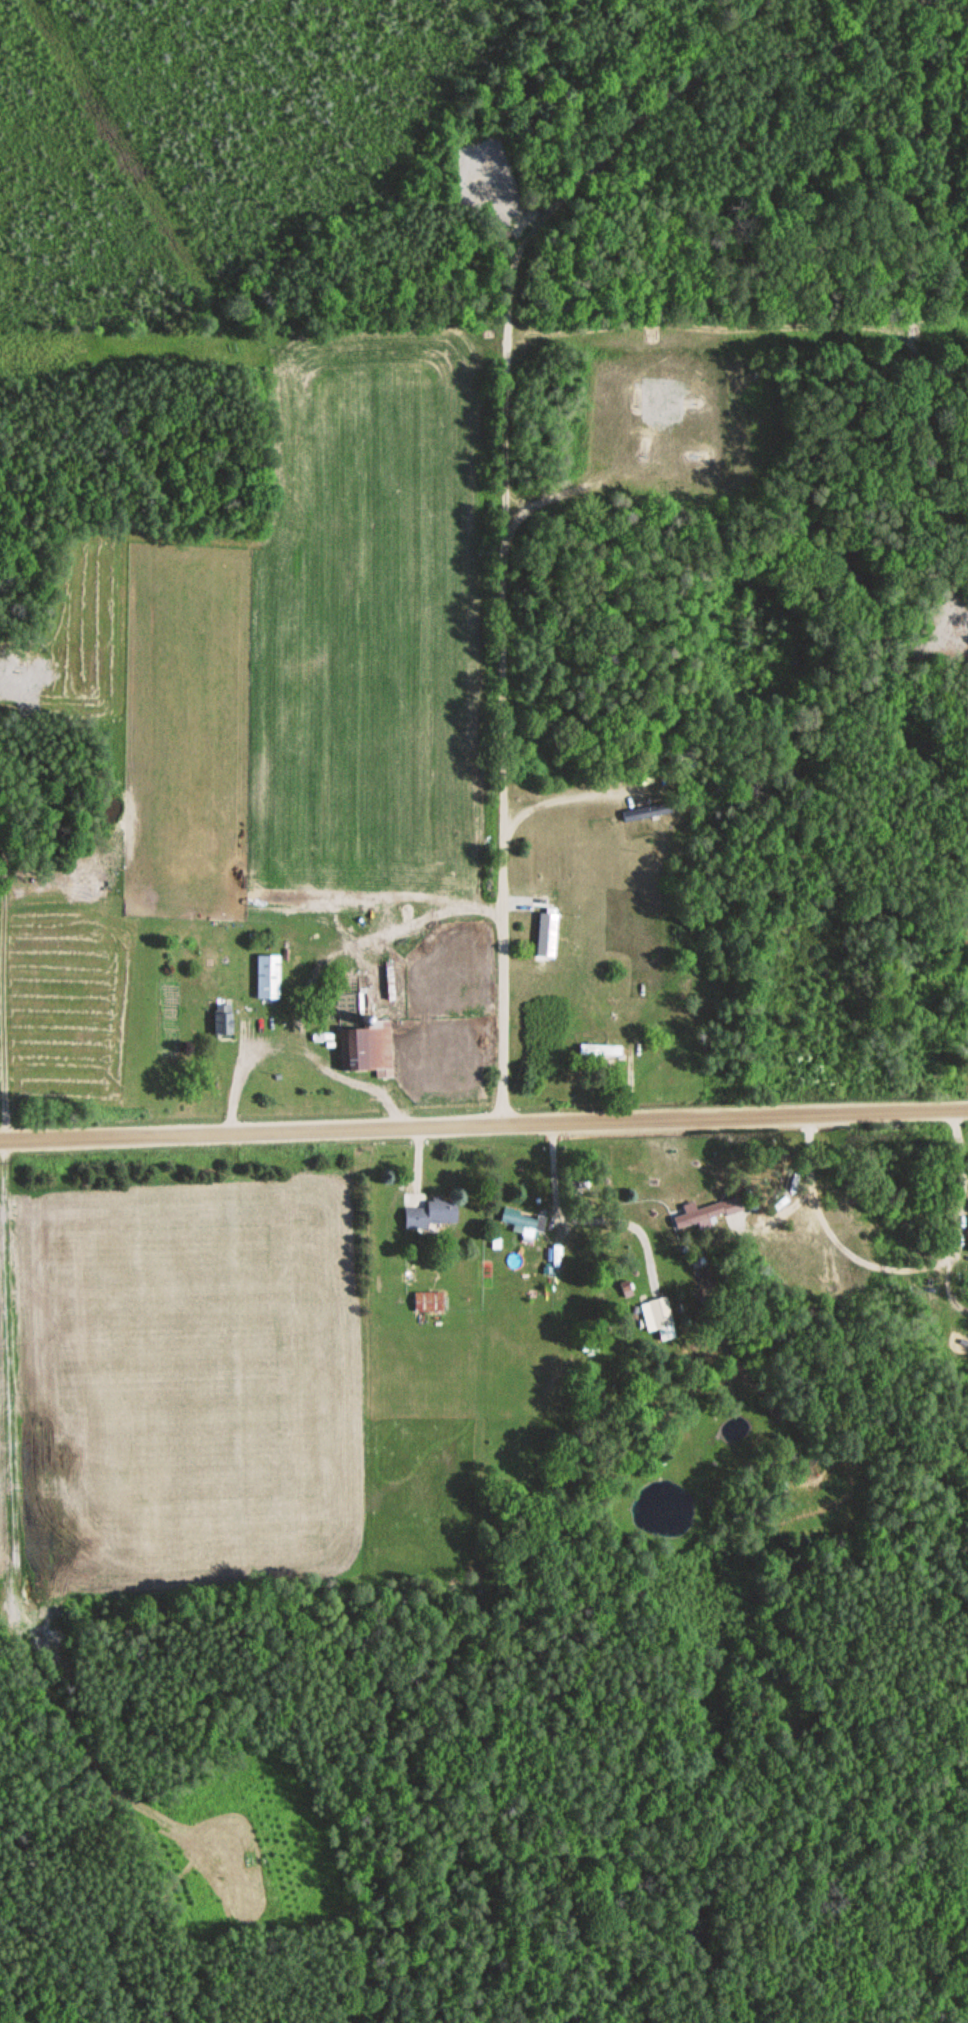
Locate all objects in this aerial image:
road: (500, 452)
building: (642, 813)
building: (543, 936)
building: (264, 979)
building: (219, 1021)
building: (367, 1049)
building: (596, 1052)
road: (483, 1123)
building: (429, 1215)
building: (694, 1217)
building: (520, 1221)
building: (967, 1234)
building: (425, 1302)
building: (654, 1318)
road: (2, 1486)

